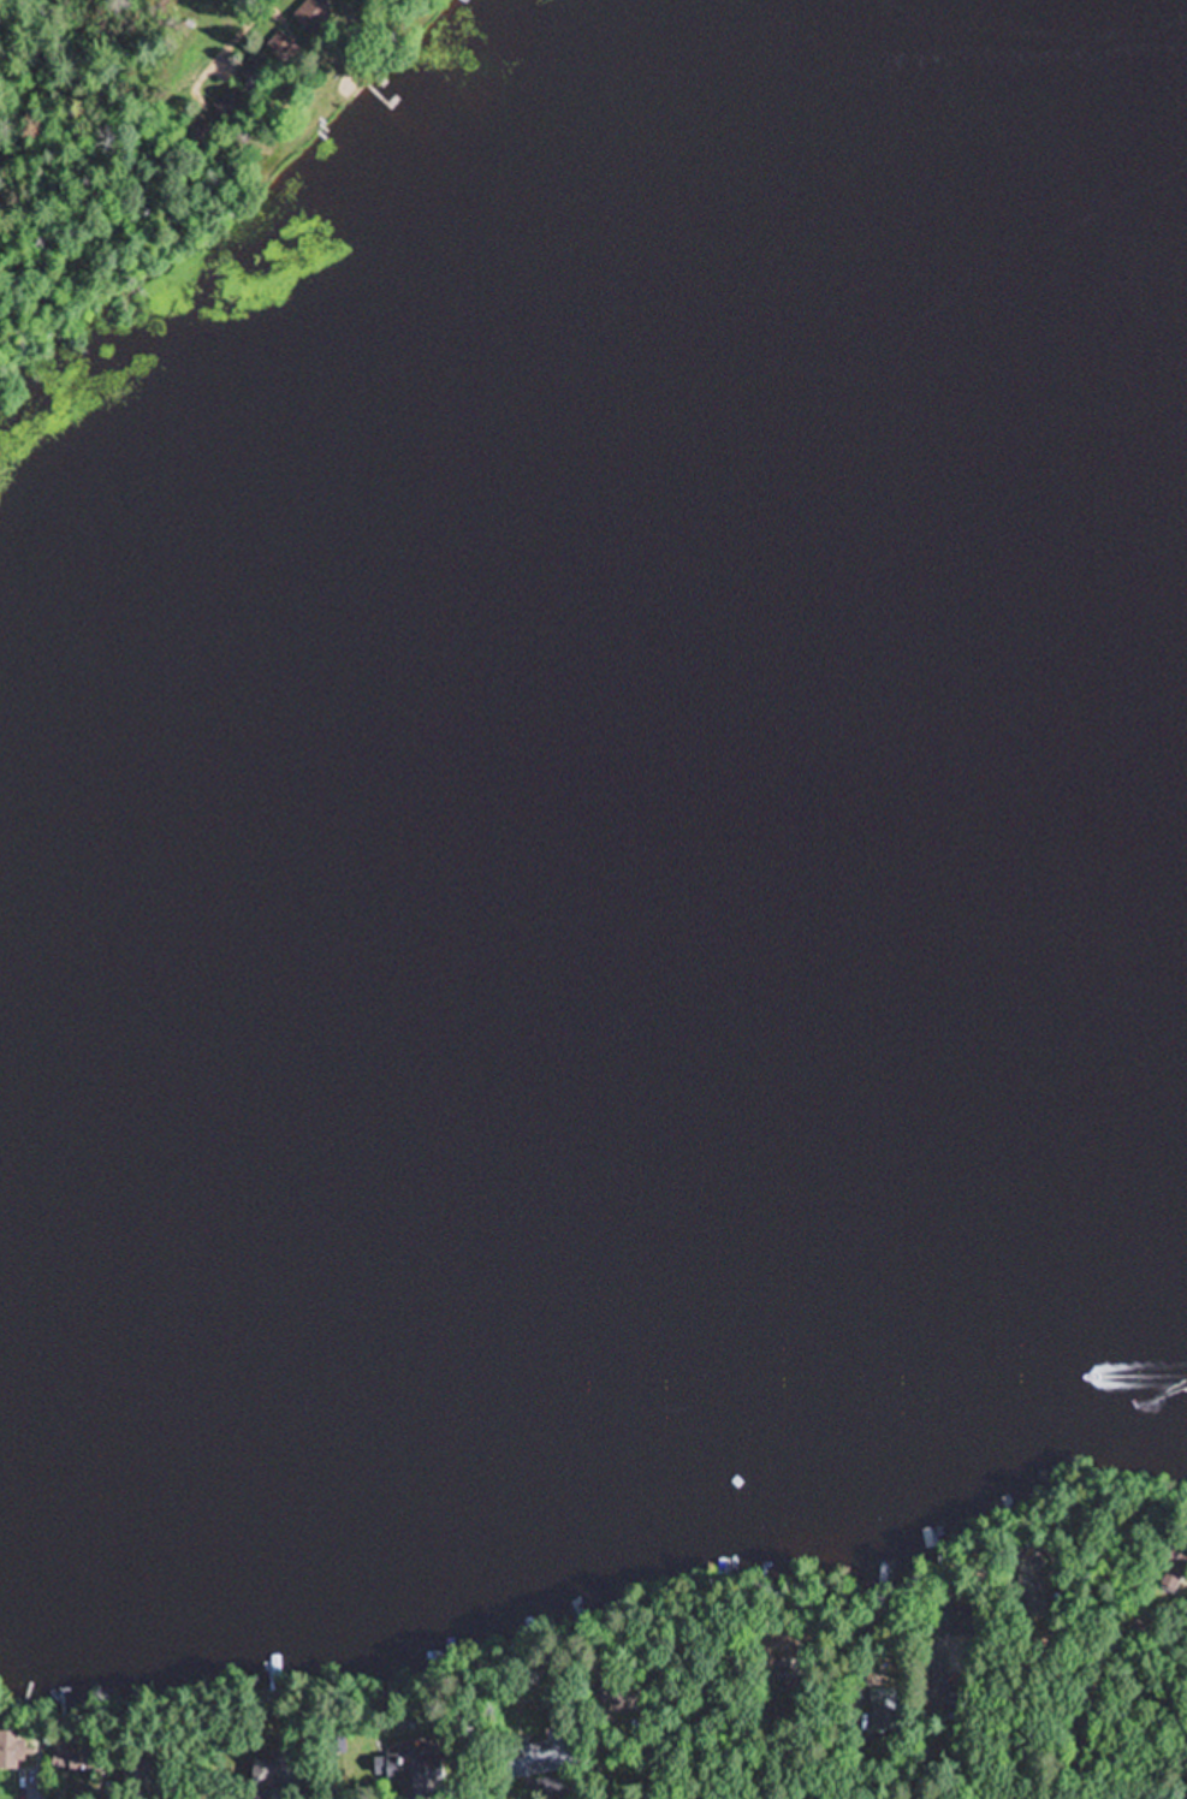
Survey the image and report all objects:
building: (313, 16)
building: (281, 48)
building: (255, 76)
building: (229, 106)
building: (200, 135)
building: (1174, 1568)
building: (1032, 1572)
building: (777, 1651)
building: (884, 1708)
building: (14, 1755)
building: (535, 1759)
building: (72, 1764)
building: (274, 1773)
building: (406, 1773)
building: (136, 1777)

